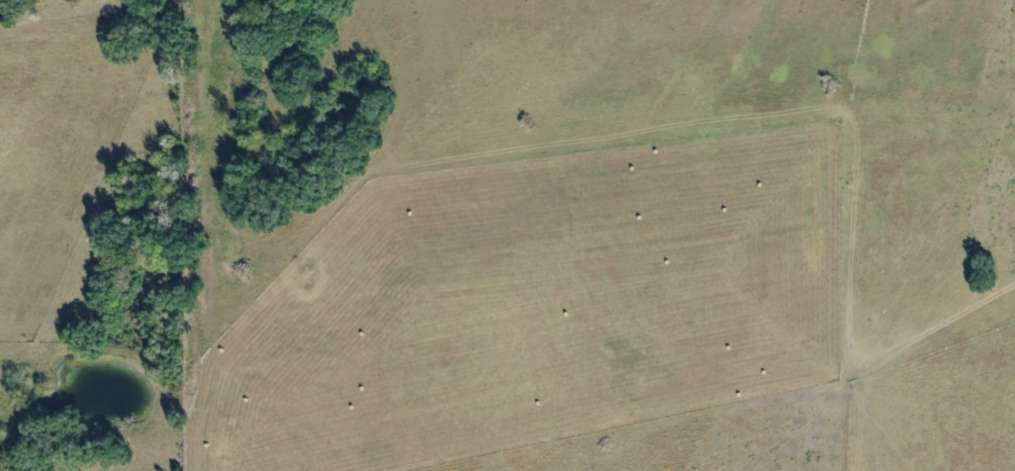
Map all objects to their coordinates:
road: (930, 330)

